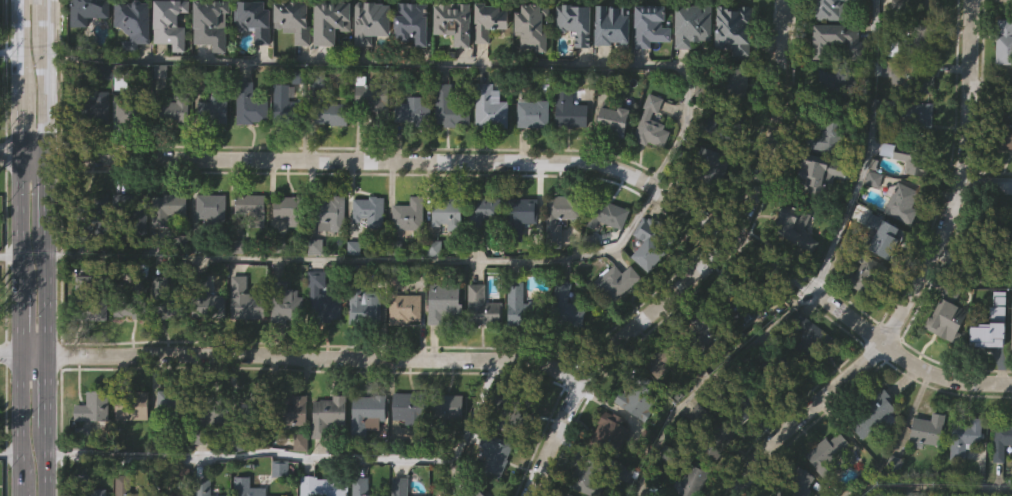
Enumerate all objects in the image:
building: (828, 8)
building: (86, 11)
building: (253, 19)
building: (291, 19)
building: (487, 19)
building: (920, 19)
building: (328, 20)
building: (131, 21)
building: (369, 21)
building: (451, 21)
building: (166, 22)
building: (573, 22)
building: (210, 23)
building: (410, 23)
building: (531, 24)
building: (610, 24)
building: (690, 24)
building: (649, 25)
building: (732, 27)
building: (1005, 39)
building: (836, 40)
building: (923, 40)
building: (88, 46)
building: (897, 47)
road: (12, 52)
road: (429, 59)
building: (252, 62)
building: (291, 62)
building: (329, 63)
building: (487, 63)
building: (132, 64)
building: (369, 64)
building: (452, 64)
building: (168, 65)
building: (411, 65)
building: (573, 65)
building: (209, 66)
building: (530, 67)
building: (610, 67)
building: (690, 67)
building: (648, 68)
building: (916, 77)
building: (729, 83)
building: (832, 84)
road: (991, 84)
building: (1003, 84)
building: (376, 98)
building: (252, 104)
building: (94, 105)
building: (288, 106)
building: (492, 107)
building: (215, 108)
building: (453, 108)
building: (570, 109)
building: (131, 110)
building: (172, 110)
building: (334, 112)
building: (535, 112)
building: (413, 113)
building: (910, 117)
building: (613, 119)
building: (726, 122)
building: (654, 123)
building: (1006, 128)
building: (832, 132)
building: (370, 141)
building: (282, 145)
building: (248, 147)
building: (95, 150)
building: (447, 150)
building: (487, 150)
road: (867, 150)
building: (212, 152)
building: (172, 153)
building: (411, 153)
building: (567, 153)
building: (125, 155)
building: (531, 155)
building: (329, 156)
building: (912, 156)
road: (12, 157)
road: (35, 157)
building: (611, 161)
road: (560, 163)
building: (649, 166)
building: (712, 166)
building: (812, 174)
building: (823, 180)
building: (1003, 180)
road: (984, 187)
building: (902, 203)
building: (709, 205)
building: (169, 208)
building: (213, 209)
building: (254, 209)
building: (293, 209)
building: (134, 210)
building: (372, 210)
building: (451, 212)
building: (480, 212)
building: (332, 213)
building: (612, 213)
building: (94, 214)
building: (411, 214)
building: (523, 215)
building: (564, 215)
building: (818, 216)
building: (795, 230)
building: (882, 230)
building: (986, 235)
building: (655, 241)
building: (101, 243)
building: (901, 245)
road: (26, 248)
road: (46, 248)
building: (209, 250)
building: (249, 250)
building: (165, 251)
building: (287, 252)
building: (367, 253)
building: (481, 253)
building: (130, 254)
road: (13, 255)
building: (330, 256)
road: (366, 257)
building: (407, 257)
building: (445, 257)
building: (605, 257)
building: (519, 259)
building: (557, 259)
road: (702, 268)
road: (972, 268)
building: (793, 270)
building: (869, 273)
building: (622, 279)
road: (922, 279)
building: (648, 287)
building: (134, 293)
building: (325, 298)
building: (208, 299)
building: (746, 299)
building: (168, 300)
building: (247, 300)
building: (365, 300)
building: (445, 300)
building: (91, 301)
building: (286, 301)
building: (404, 301)
building: (486, 306)
building: (521, 306)
building: (569, 306)
building: (946, 315)
building: (858, 317)
building: (615, 324)
building: (986, 326)
building: (1009, 326)
building: (78, 328)
building: (711, 332)
building: (814, 337)
building: (321, 341)
building: (163, 342)
building: (243, 343)
building: (284, 345)
building: (362, 346)
building: (441, 346)
road: (321, 347)
building: (564, 347)
building: (517, 348)
building: (208, 349)
building: (480, 349)
building: (733, 350)
building: (403, 351)
road: (15, 353)
building: (127, 353)
road: (38, 355)
building: (93, 355)
building: (945, 358)
building: (674, 359)
building: (989, 366)
building: (783, 368)
building: (1010, 369)
building: (703, 373)
building: (805, 376)
road: (708, 380)
building: (644, 395)
building: (176, 402)
building: (410, 404)
building: (134, 405)
building: (740, 405)
building: (95, 406)
building: (217, 409)
building: (254, 409)
building: (292, 410)
building: (512, 410)
building: (878, 411)
building: (442, 413)
building: (329, 414)
building: (368, 415)
building: (714, 432)
building: (613, 433)
building: (911, 437)
building: (962, 437)
building: (999, 439)
building: (633, 443)
building: (167, 444)
building: (404, 447)
building: (446, 449)
building: (91, 450)
building: (131, 450)
road: (14, 451)
building: (293, 452)
building: (874, 453)
road: (310, 454)
building: (496, 455)
building: (826, 455)
building: (366, 456)
building: (695, 456)
building: (209, 457)
building: (326, 457)
building: (283, 467)
building: (925, 471)
building: (590, 476)
building: (962, 477)
building: (1000, 477)
building: (205, 481)
building: (693, 481)
building: (801, 482)
building: (251, 485)
building: (298, 485)
building: (125, 486)
building: (324, 486)
building: (362, 486)
building: (399, 486)
building: (493, 487)
building: (828, 487)
building: (471, 490)
building: (98, 491)
building: (571, 493)
building: (662, 493)
building: (174, 494)
building: (670, 495)

